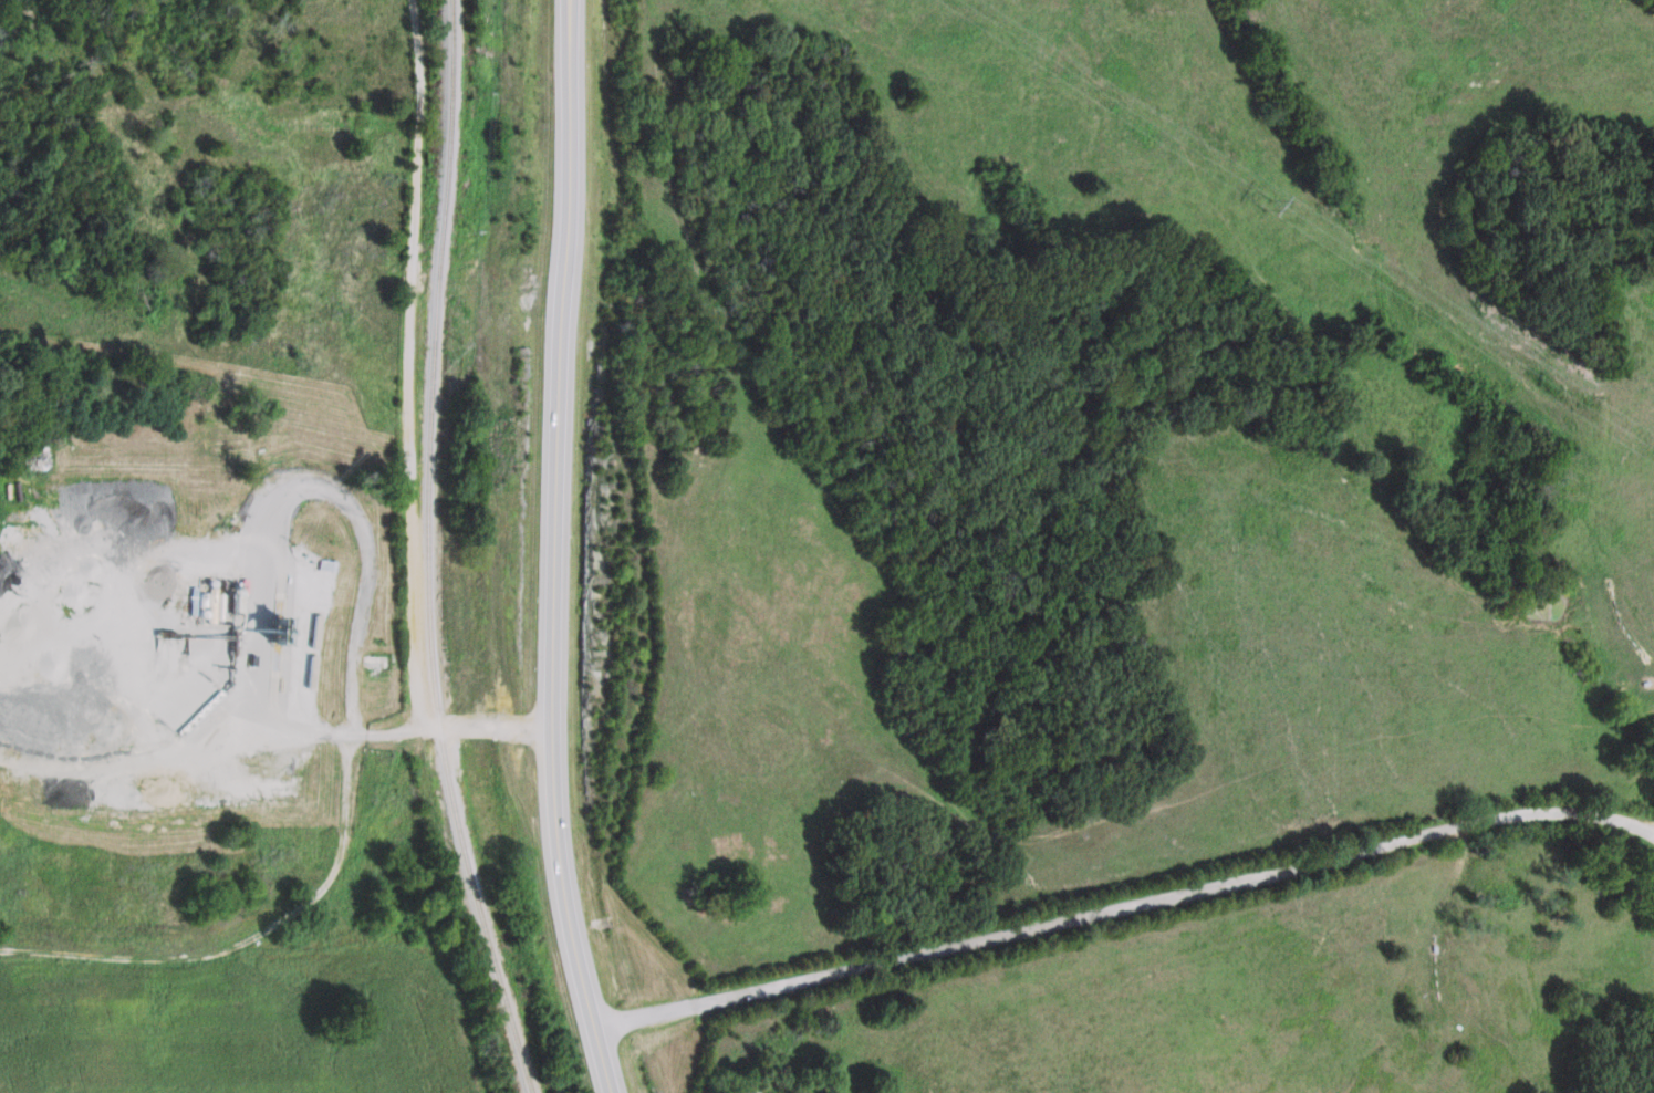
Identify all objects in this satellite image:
road: (408, 362)
road: (556, 550)
railway: (428, 552)
road: (424, 724)
road: (1128, 905)

